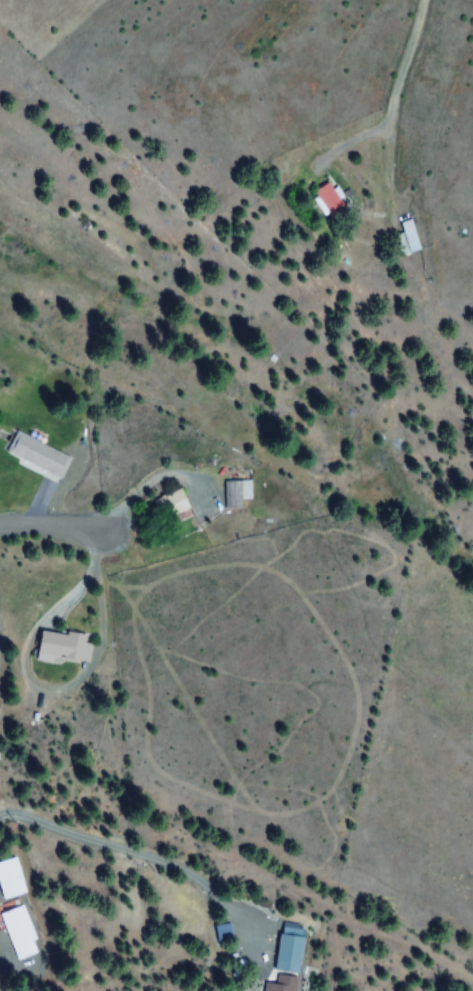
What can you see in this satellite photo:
road: (394, 104)
building: (328, 202)
building: (405, 239)
building: (35, 454)
building: (236, 493)
building: (174, 503)
road: (53, 528)
building: (62, 648)
building: (10, 879)
building: (19, 933)
building: (287, 953)
building: (280, 984)

